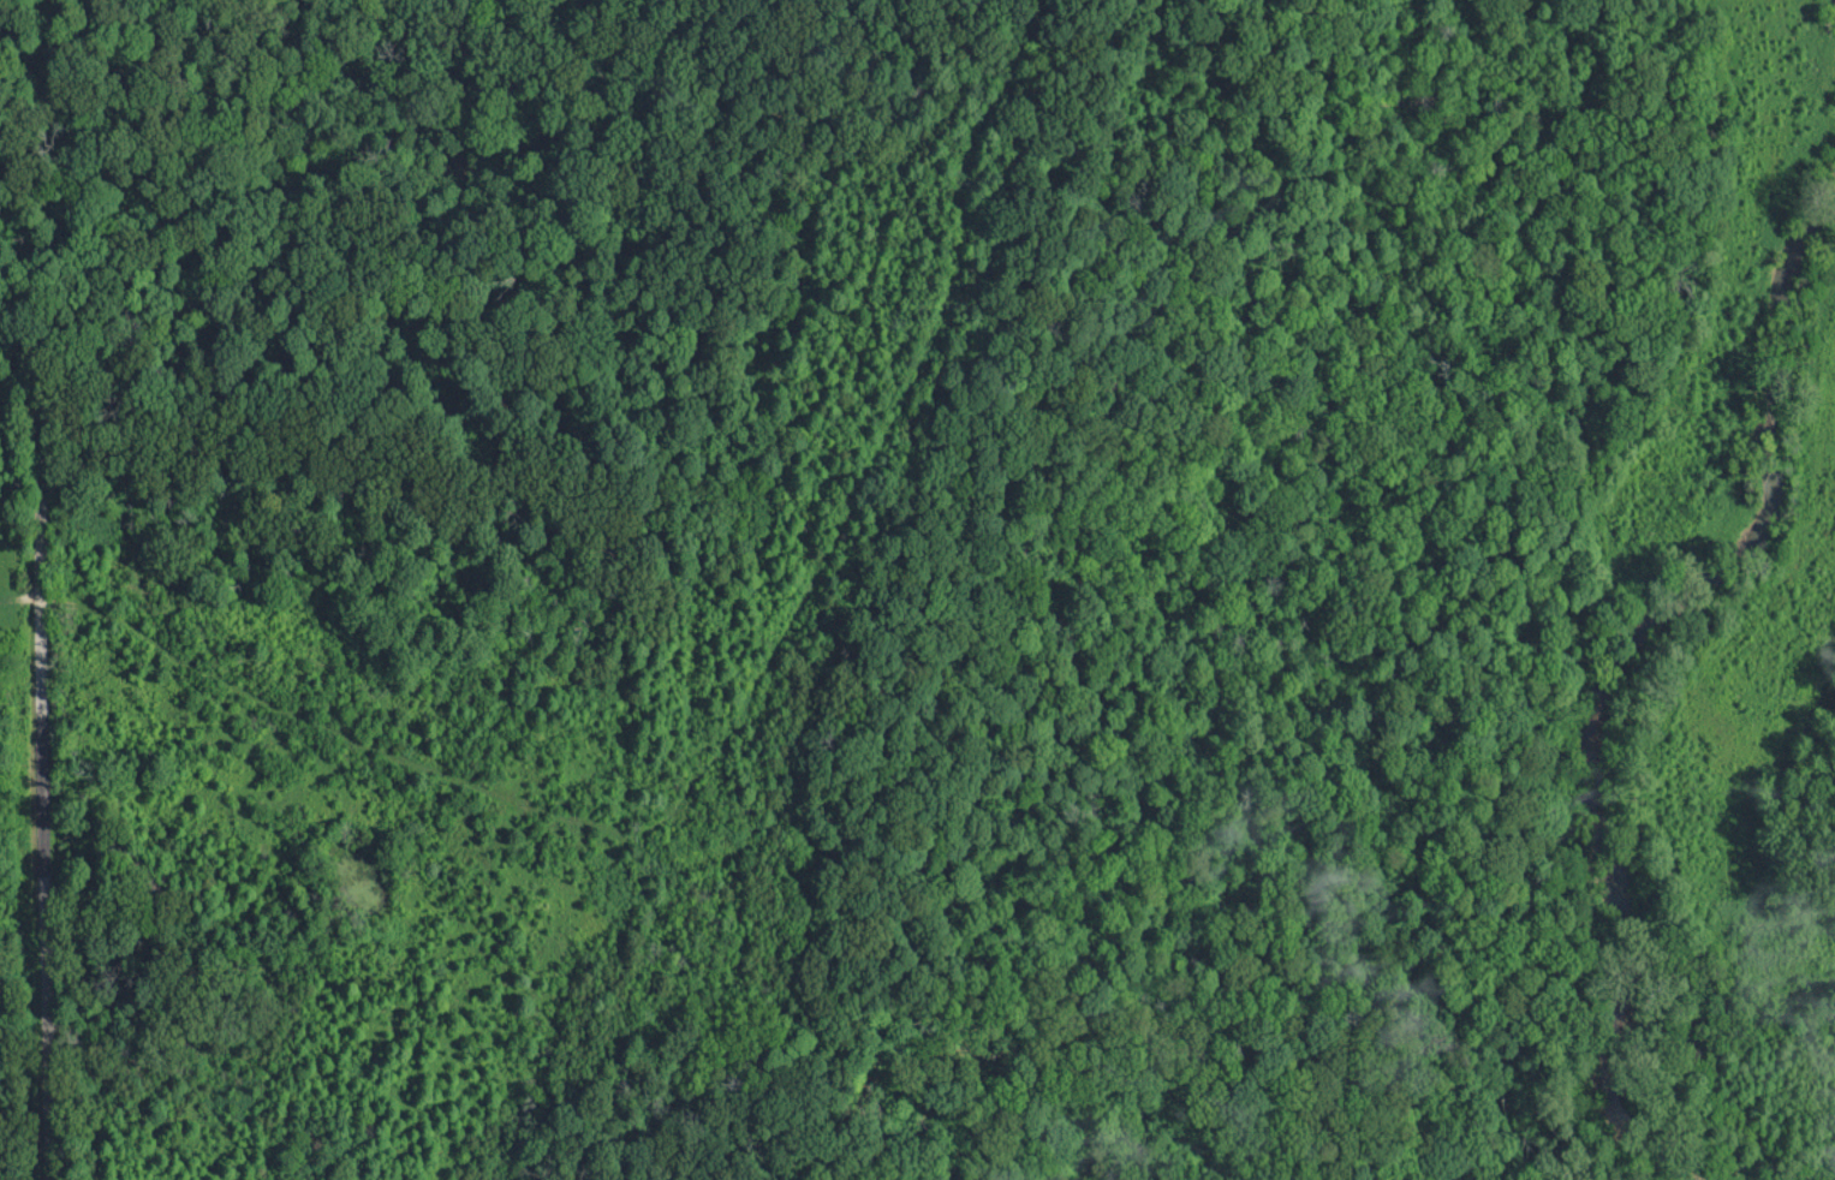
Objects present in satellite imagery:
road: (38, 753)

